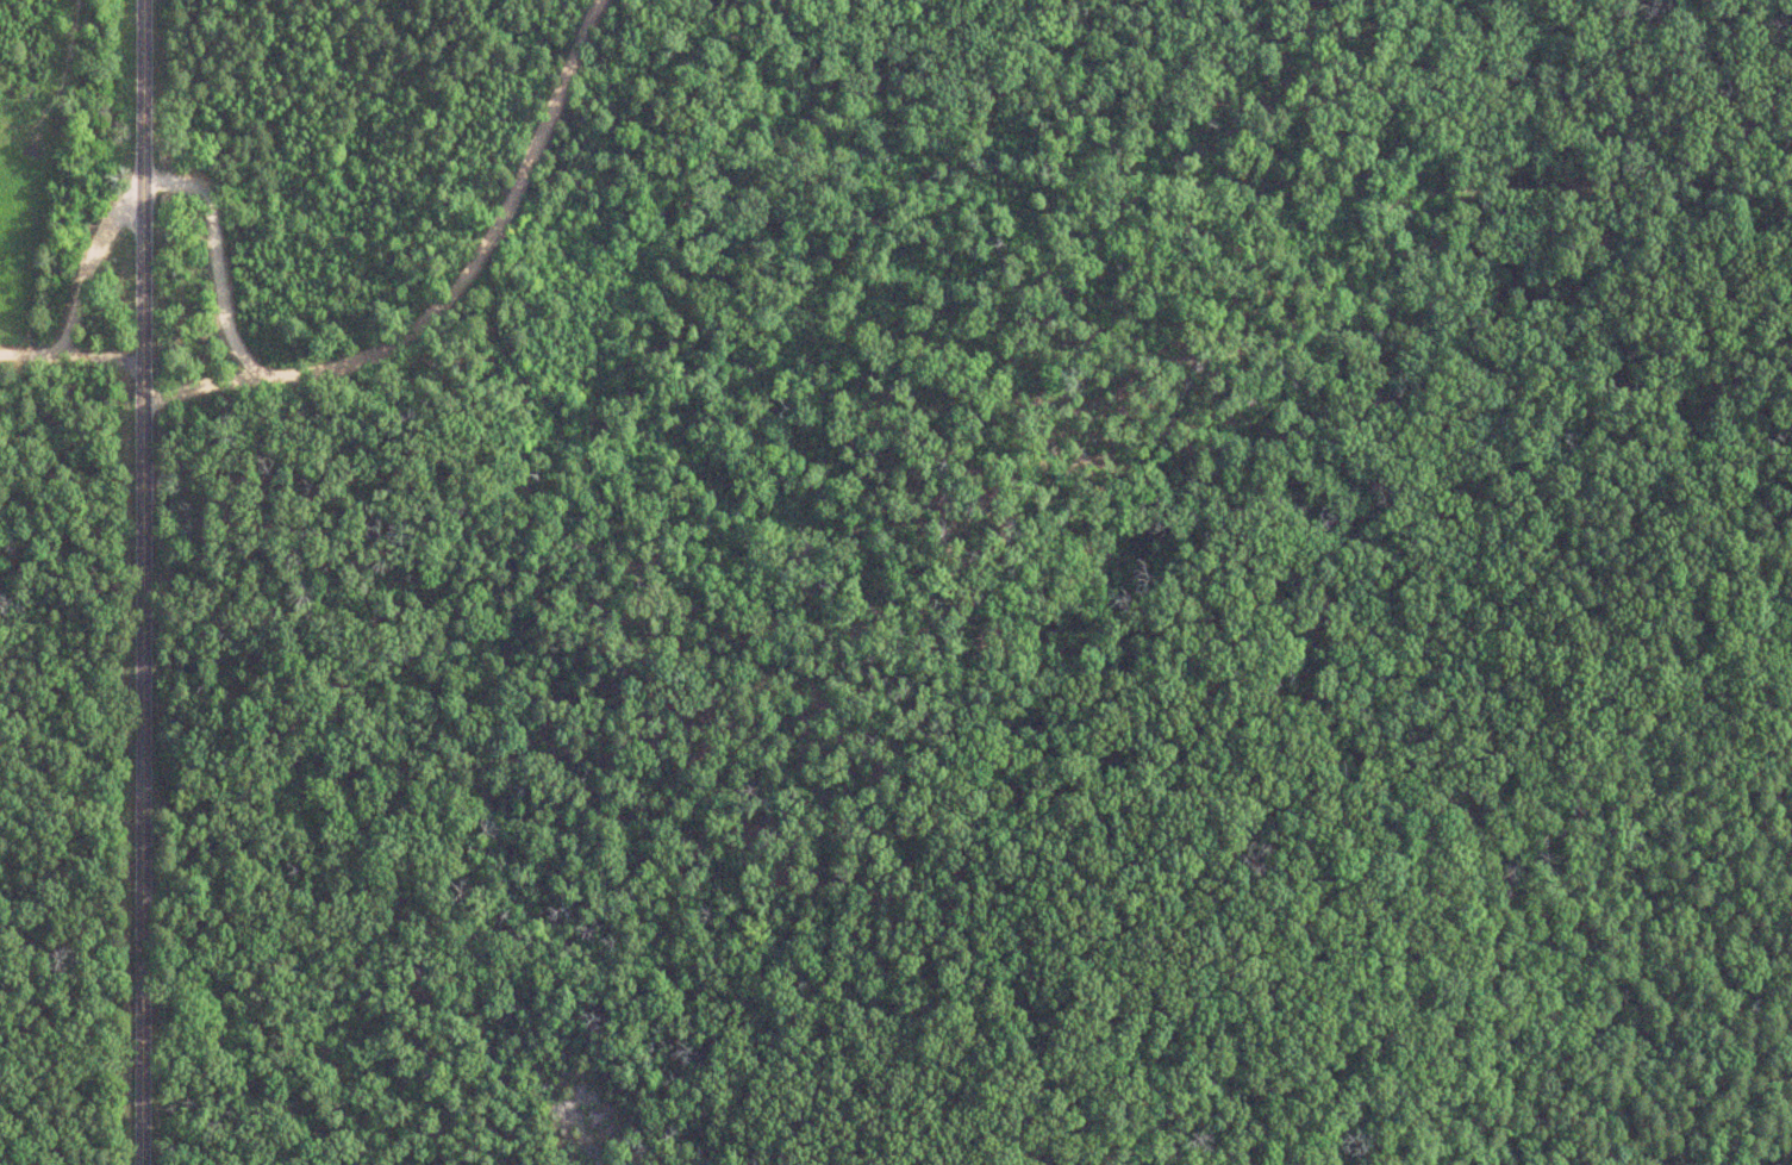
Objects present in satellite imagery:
road: (71, 278)
road: (461, 297)
road: (74, 356)
road: (141, 581)

